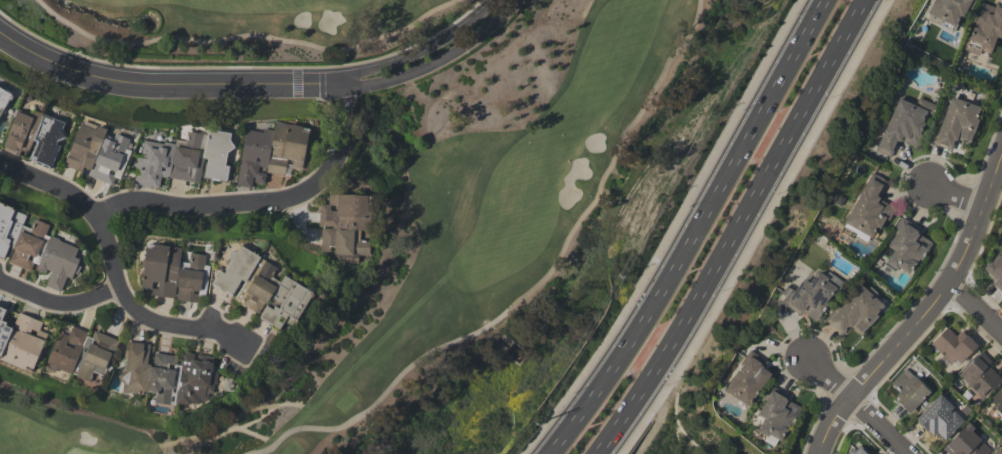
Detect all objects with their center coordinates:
building: (948, 10)
building: (985, 28)
road: (422, 49)
road: (438, 60)
road: (166, 84)
building: (4, 97)
building: (956, 122)
building: (904, 123)
building: (35, 135)
building: (271, 152)
building: (97, 153)
building: (183, 158)
road: (953, 198)
road: (260, 201)
building: (1001, 206)
building: (869, 207)
park: (436, 208)
building: (345, 225)
road: (736, 230)
road: (758, 230)
road: (668, 232)
road: (696, 232)
building: (906, 247)
building: (35, 248)
road: (116, 265)
building: (235, 269)
building: (995, 269)
building: (171, 273)
road: (531, 289)
building: (811, 294)
building: (272, 295)
road: (59, 302)
road: (976, 310)
building: (856, 311)
road: (925, 311)
building: (21, 340)
building: (952, 345)
building: (65, 350)
building: (168, 374)
building: (979, 374)
road: (828, 378)
building: (747, 379)
building: (907, 390)
road: (647, 399)
building: (997, 400)
building: (776, 414)
building: (939, 417)
road: (879, 425)
road: (652, 429)
building: (966, 443)
building: (857, 450)
building: (998, 451)

